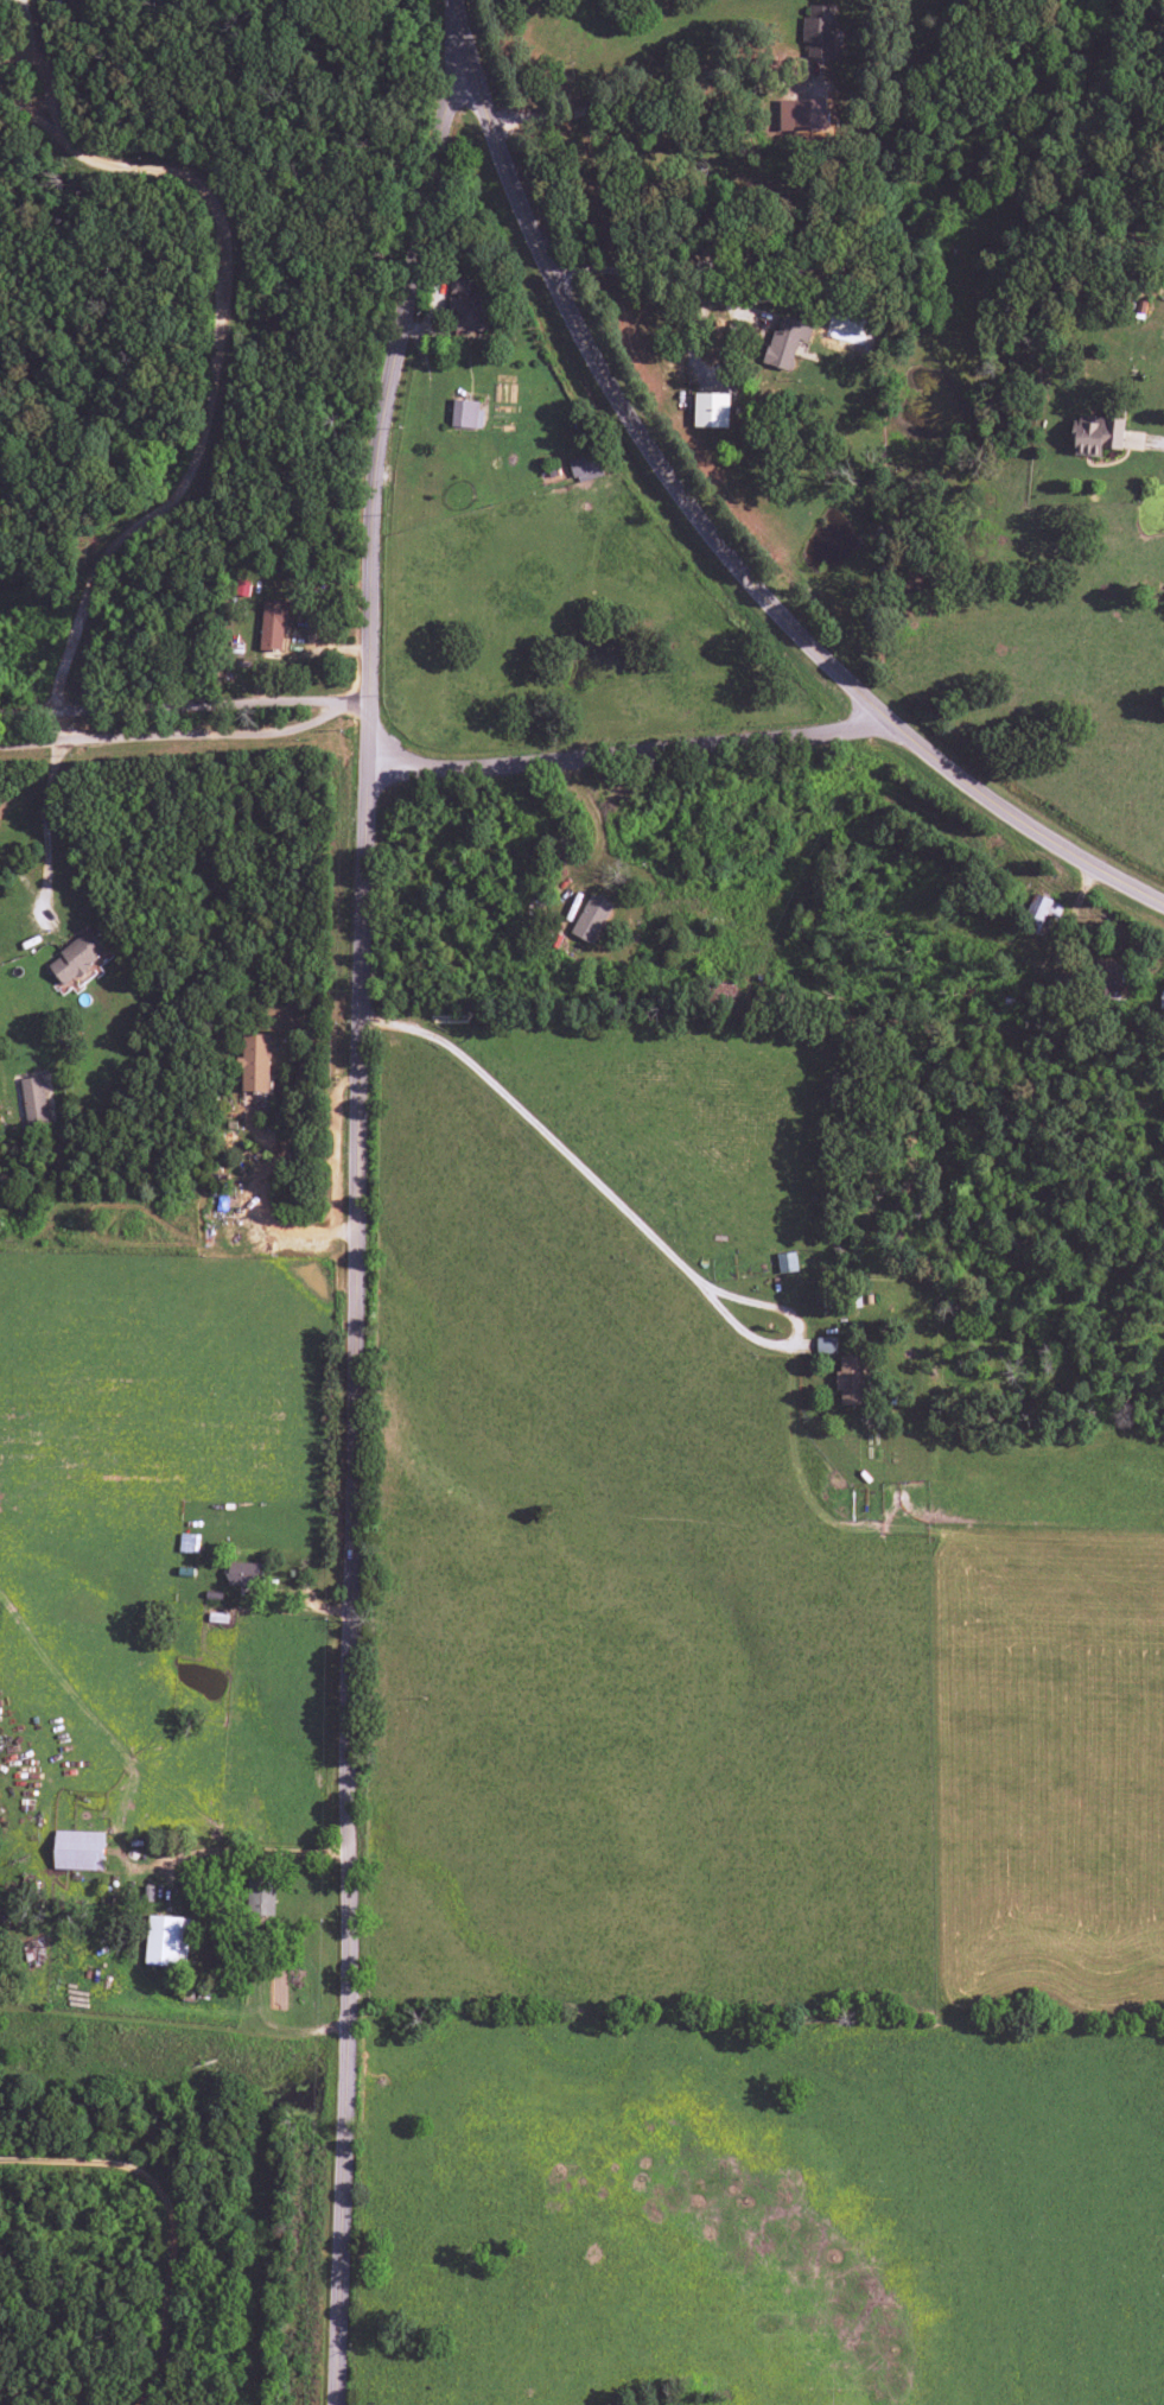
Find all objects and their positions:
building: (819, 31)
road: (647, 89)
building: (802, 116)
road: (414, 237)
building: (466, 306)
building: (850, 323)
building: (784, 343)
road: (222, 361)
building: (711, 410)
building: (466, 413)
building: (1096, 434)
road: (1152, 443)
building: (586, 468)
road: (713, 526)
building: (242, 588)
building: (273, 624)
road: (357, 710)
road: (173, 711)
road: (63, 729)
road: (176, 738)
road: (623, 744)
road: (361, 825)
building: (1042, 909)
building: (591, 919)
building: (76, 957)
building: (1109, 981)
building: (255, 1062)
building: (33, 1102)
road: (586, 1179)
road: (758, 1303)
building: (826, 1345)
building: (850, 1381)
building: (244, 1574)
road: (344, 1616)
building: (78, 1851)
building: (260, 1897)
building: (166, 1941)
road: (336, 2204)
road: (172, 2214)

